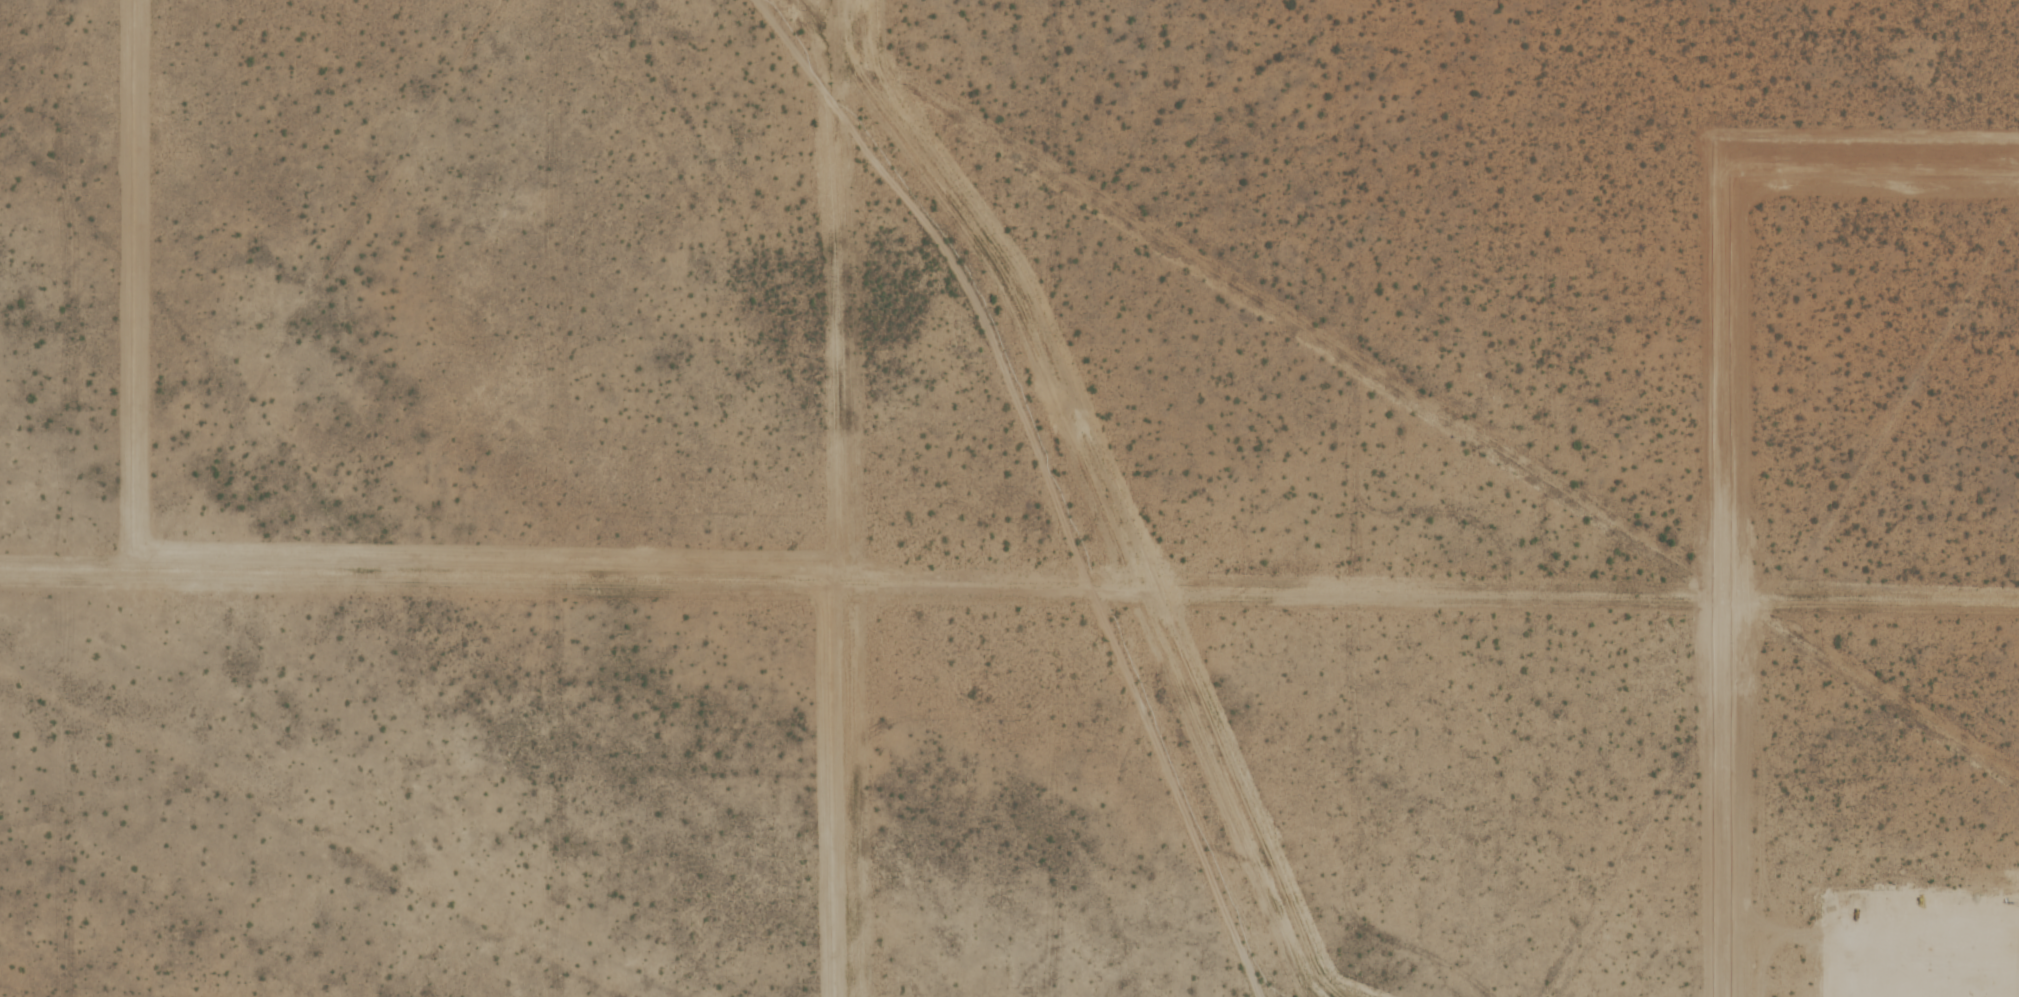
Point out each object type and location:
road: (2001, 989)

